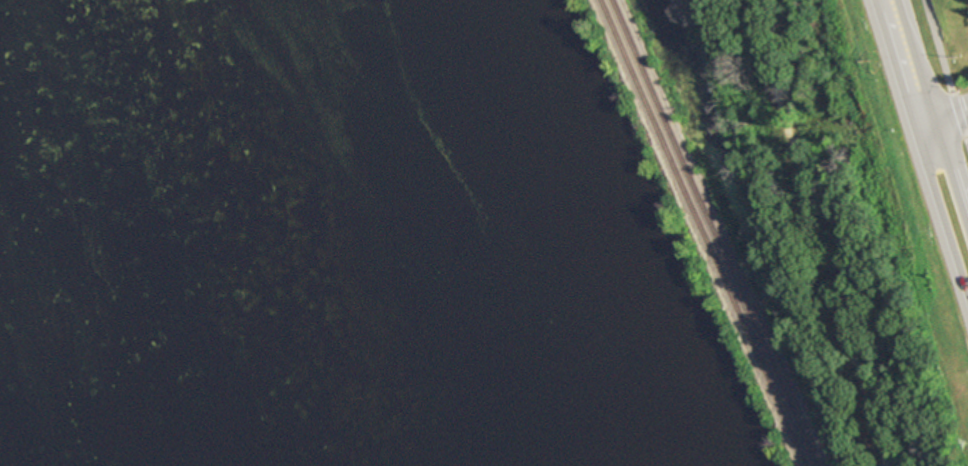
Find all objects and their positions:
road: (943, 75)
road: (934, 110)
road: (937, 117)
road: (917, 161)
road: (821, 231)
railway: (712, 232)
railway: (700, 233)

